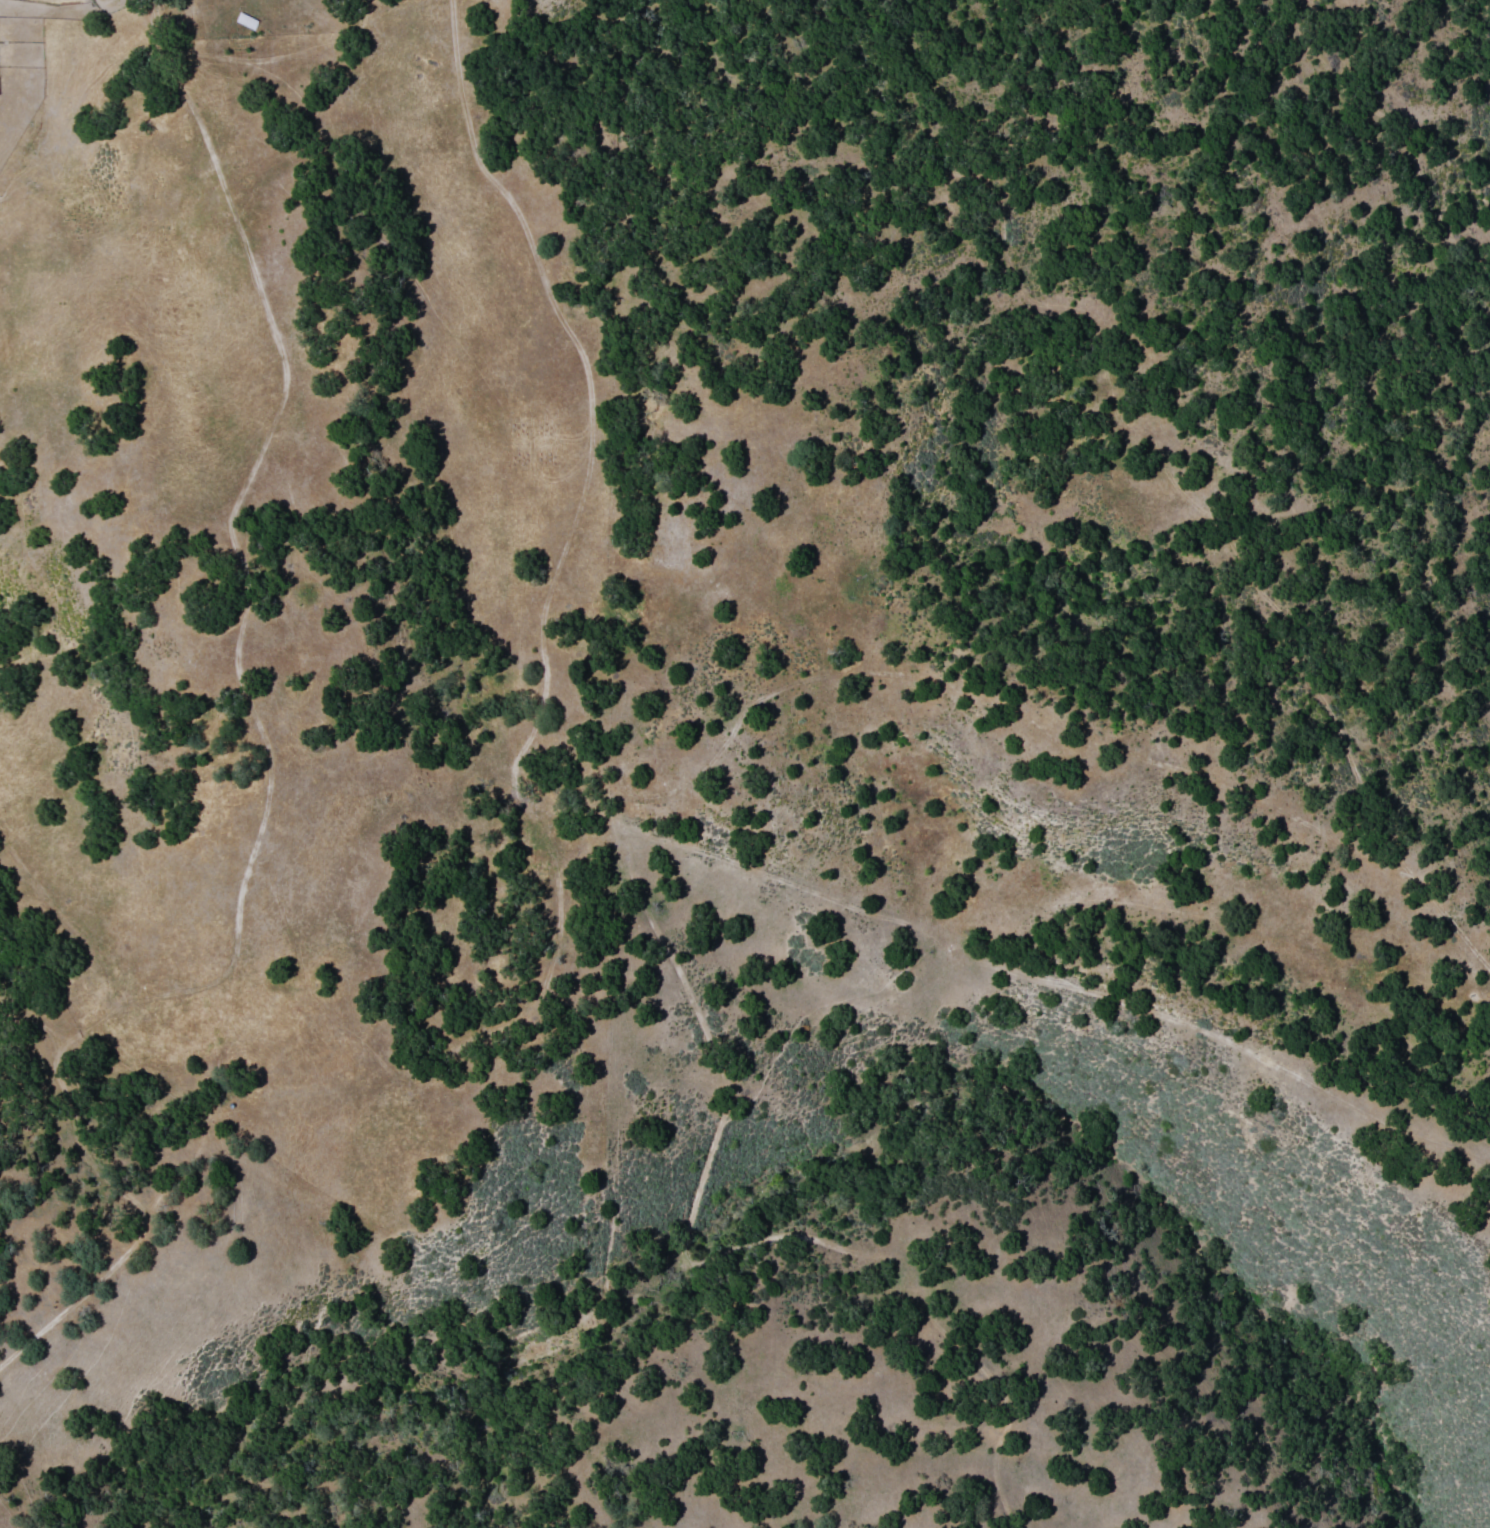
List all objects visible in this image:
road: (1107, 745)
road: (1271, 1039)

